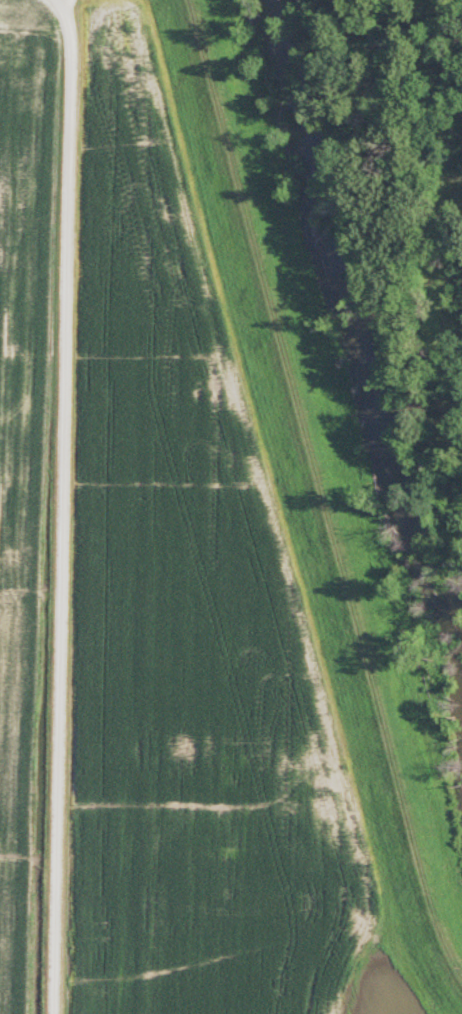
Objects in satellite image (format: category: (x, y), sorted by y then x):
road: (60, 505)

